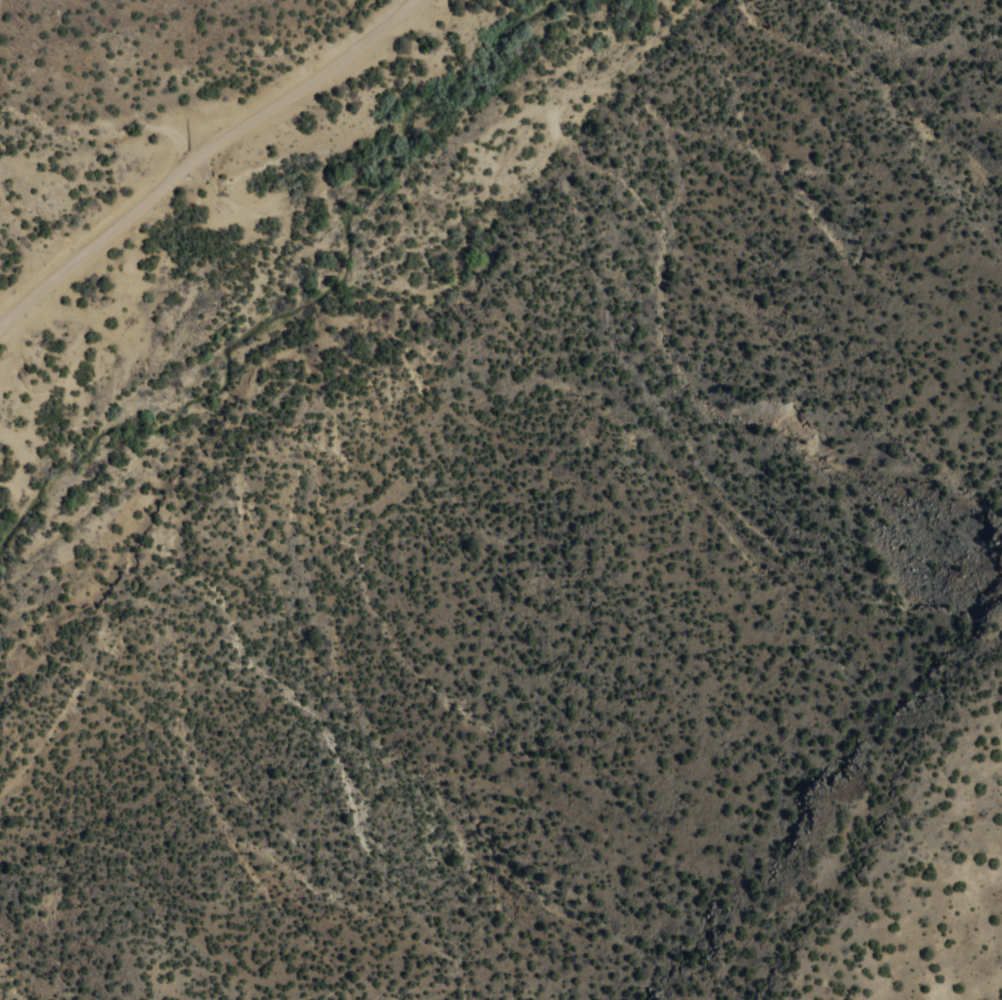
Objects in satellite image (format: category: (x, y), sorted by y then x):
road: (201, 154)

